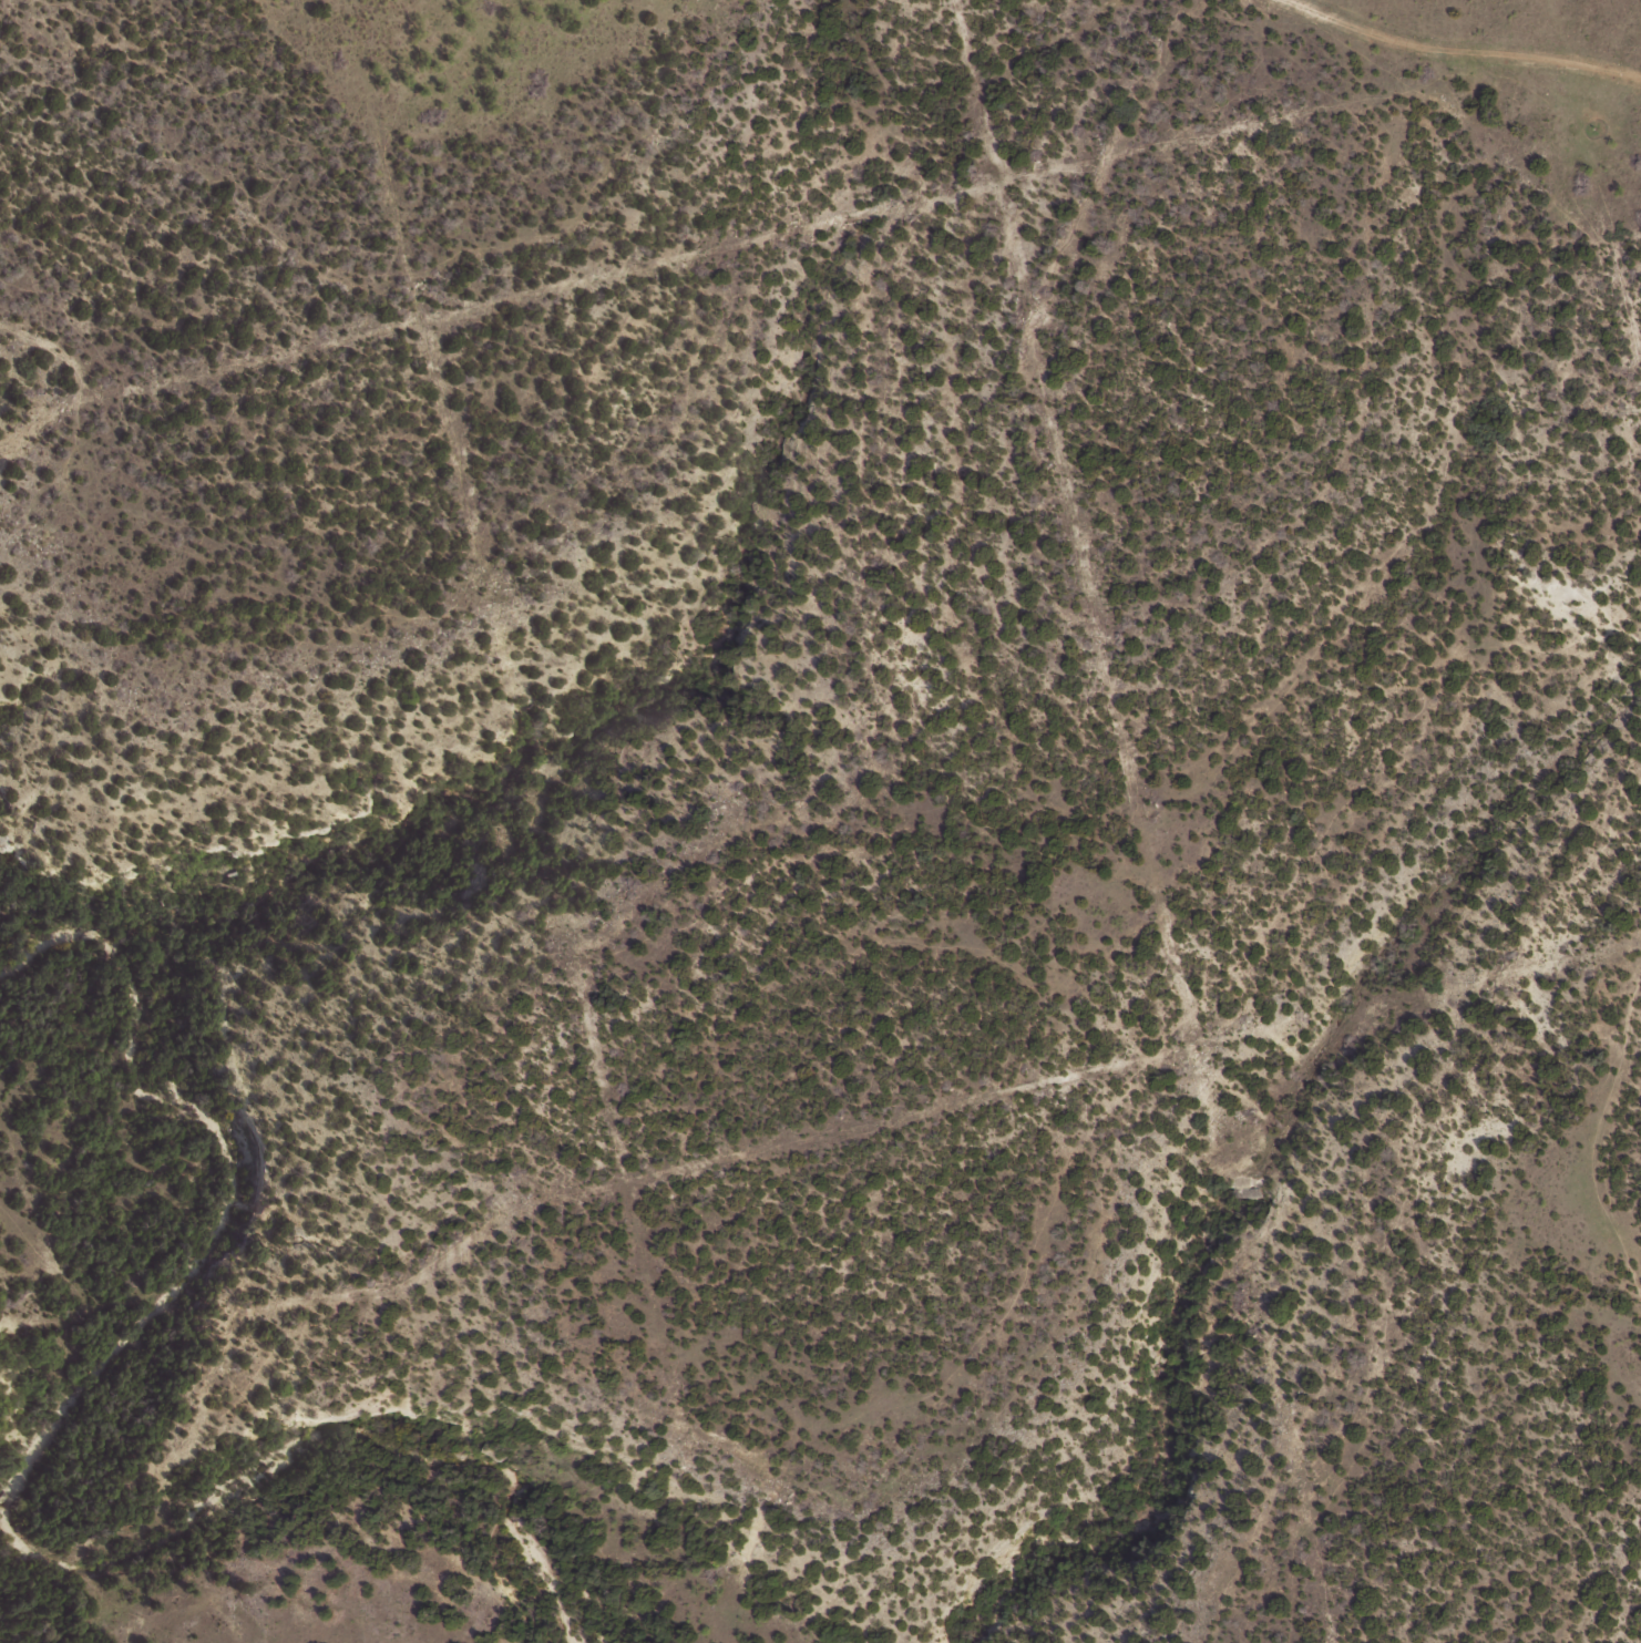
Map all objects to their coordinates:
road: (1470, 63)
road: (1638, 1138)

